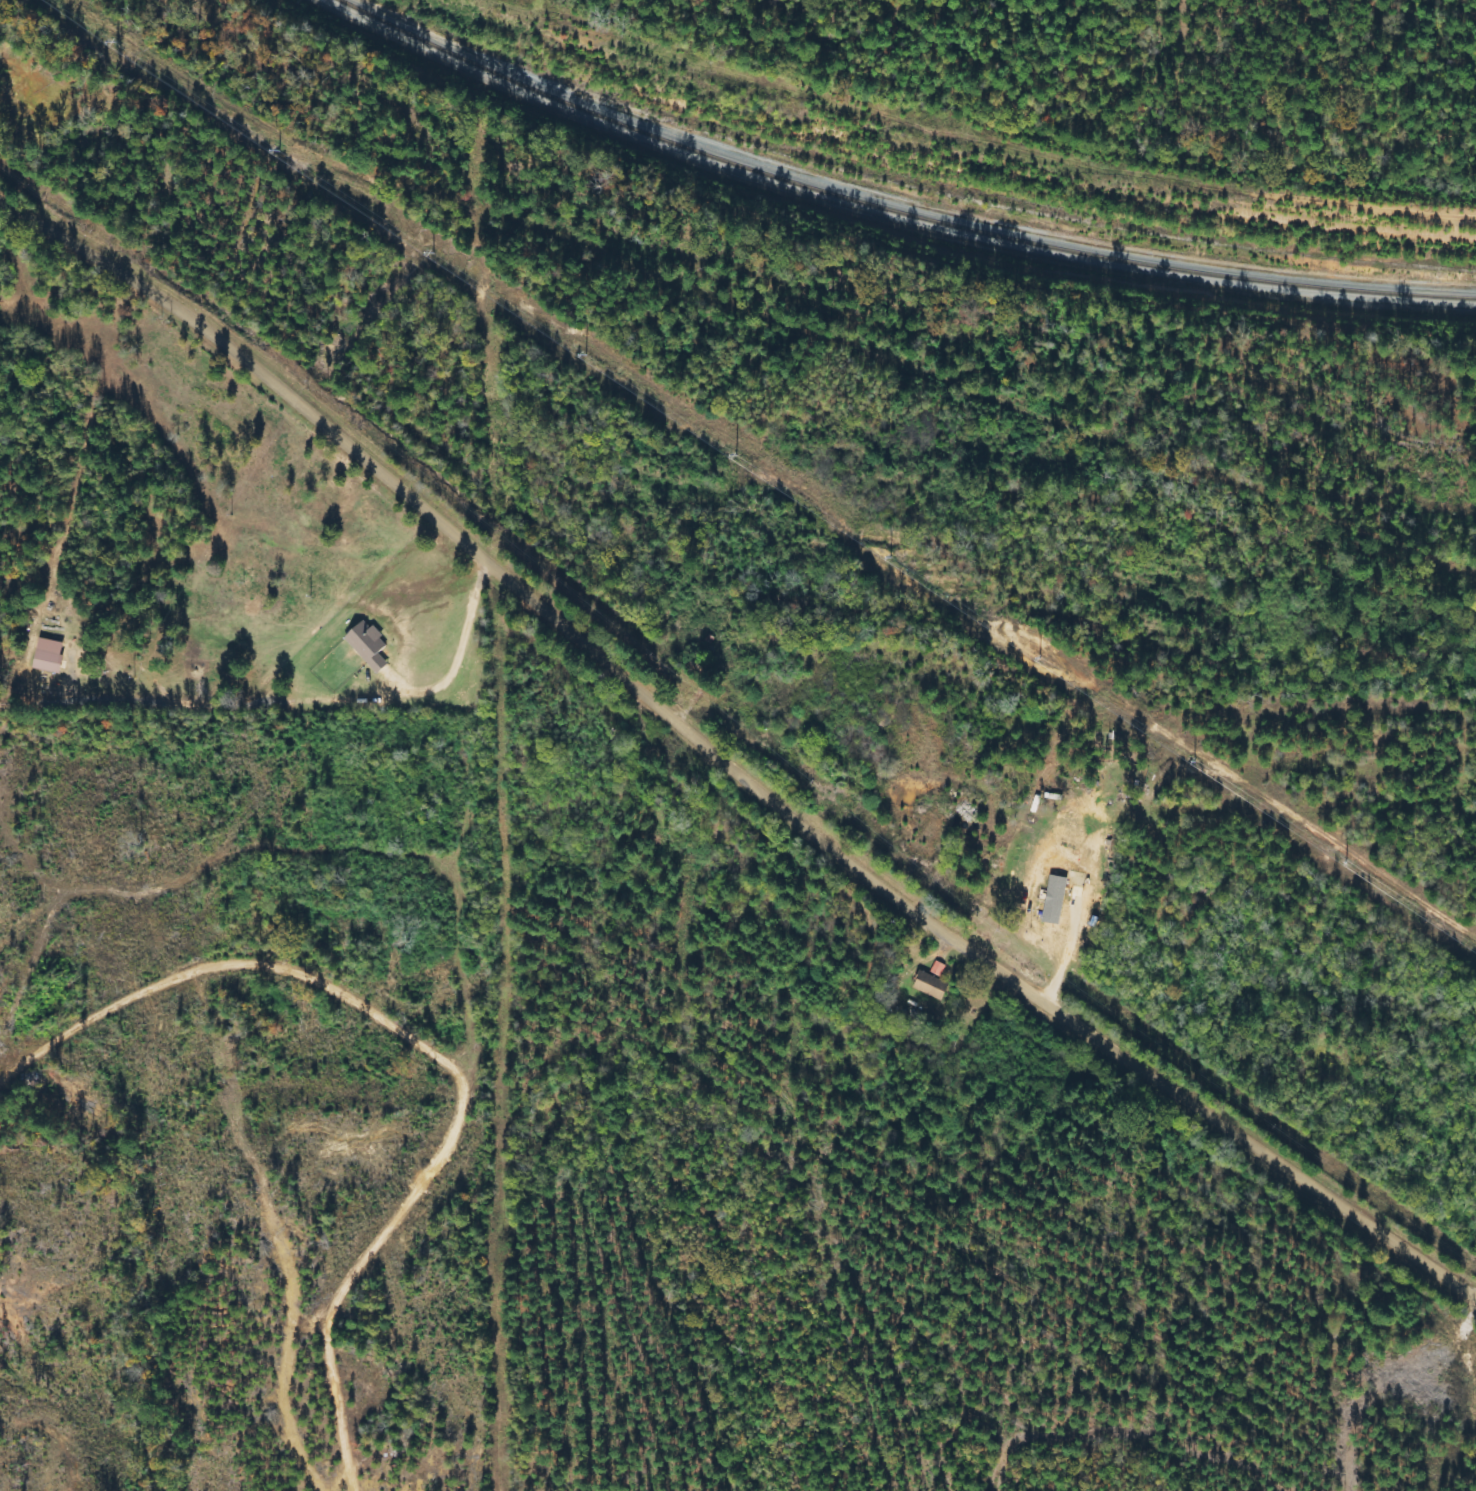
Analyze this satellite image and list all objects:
railway: (899, 214)
building: (373, 646)
building: (54, 655)
road: (725, 764)
building: (1059, 900)
building: (941, 968)
building: (936, 986)

